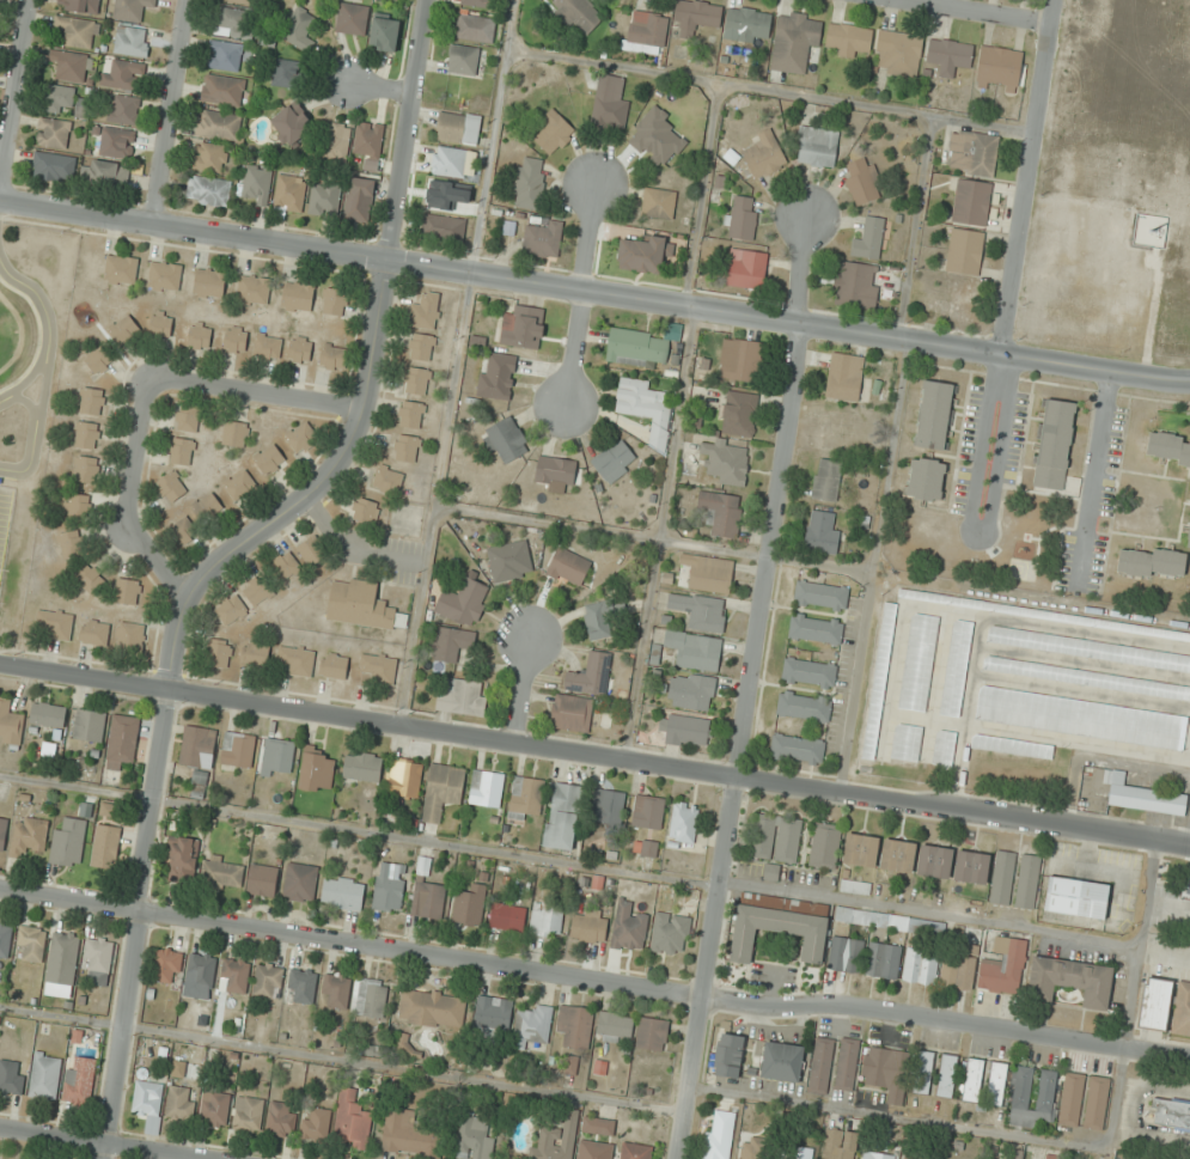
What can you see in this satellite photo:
building: (240, 1)
building: (477, 2)
building: (80, 5)
building: (132, 8)
road: (974, 11)
building: (576, 14)
building: (695, 17)
building: (352, 19)
building: (232, 23)
building: (746, 24)
building: (295, 28)
building: (474, 28)
building: (78, 31)
building: (647, 32)
building: (384, 33)
building: (847, 39)
building: (132, 41)
building: (795, 41)
building: (899, 53)
building: (224, 55)
building: (950, 56)
building: (463, 60)
building: (68, 66)
building: (1000, 69)
building: (286, 73)
building: (123, 75)
building: (222, 90)
road: (384, 90)
road: (768, 90)
road: (16, 96)
building: (60, 99)
building: (609, 104)
building: (81, 108)
building: (123, 109)
road: (170, 112)
building: (291, 123)
building: (218, 124)
building: (458, 127)
building: (53, 133)
building: (554, 134)
building: (336, 141)
building: (117, 142)
building: (370, 144)
building: (817, 147)
building: (972, 153)
building: (763, 155)
building: (209, 157)
building: (448, 161)
building: (51, 166)
building: (108, 173)
road: (1026, 177)
building: (863, 181)
building: (257, 183)
building: (530, 183)
building: (208, 190)
building: (289, 193)
road: (700, 194)
building: (324, 200)
building: (359, 200)
building: (971, 202)
building: (658, 203)
building: (740, 218)
building: (444, 227)
road: (913, 227)
building: (543, 237)
building: (868, 238)
building: (965, 251)
building: (645, 254)
building: (121, 269)
building: (746, 269)
building: (164, 276)
building: (209, 282)
building: (854, 286)
building: (252, 289)
building: (297, 295)
road: (593, 295)
road: (582, 297)
road: (41, 300)
building: (334, 301)
building: (425, 312)
building: (160, 323)
building: (523, 327)
building: (123, 329)
road: (376, 335)
building: (200, 336)
building: (236, 340)
building: (267, 347)
building: (421, 347)
building: (636, 347)
building: (300, 349)
building: (334, 358)
building: (98, 360)
building: (743, 361)
road: (456, 362)
building: (496, 376)
building: (844, 377)
road: (29, 378)
building: (416, 380)
road: (43, 386)
road: (256, 395)
building: (91, 401)
building: (645, 409)
building: (738, 413)
building: (410, 414)
building: (935, 415)
building: (188, 417)
road: (35, 433)
building: (86, 434)
building: (234, 434)
building: (300, 437)
building: (505, 440)
building: (1055, 444)
building: (407, 447)
building: (1167, 450)
building: (181, 451)
building: (269, 459)
building: (615, 460)
building: (726, 462)
building: (85, 470)
building: (555, 474)
building: (387, 478)
building: (826, 480)
building: (926, 480)
building: (239, 484)
building: (171, 487)
road: (132, 499)
building: (77, 506)
building: (207, 507)
building: (365, 511)
building: (722, 512)
building: (182, 531)
building: (822, 532)
road: (659, 533)
road: (652, 538)
building: (1189, 541)
building: (69, 544)
building: (311, 551)
building: (509, 561)
building: (1152, 562)
building: (286, 565)
road: (871, 566)
building: (568, 567)
building: (709, 573)
building: (91, 579)
building: (128, 591)
building: (256, 591)
building: (822, 594)
building: (464, 600)
building: (362, 605)
building: (231, 610)
building: (701, 611)
building: (598, 621)
building: (55, 623)
building: (816, 628)
building: (94, 632)
building: (129, 635)
building: (451, 643)
building: (1088, 648)
building: (694, 649)
building: (219, 653)
building: (255, 653)
building: (295, 660)
building: (919, 663)
building: (334, 665)
building: (378, 667)
building: (957, 667)
building: (808, 672)
building: (591, 673)
building: (1086, 678)
building: (879, 681)
road: (520, 689)
road: (746, 689)
building: (691, 691)
building: (460, 697)
building: (804, 706)
building: (572, 713)
building: (48, 715)
building: (1081, 718)
building: (10, 722)
building: (90, 725)
building: (684, 730)
building: (122, 742)
building: (907, 742)
building: (1012, 746)
building: (199, 749)
building: (238, 749)
building: (797, 749)
building: (944, 749)
building: (277, 756)
road: (594, 756)
building: (362, 765)
building: (317, 771)
building: (404, 779)
building: (487, 787)
building: (443, 791)
building: (1142, 795)
building: (525, 797)
building: (109, 809)
building: (608, 809)
building: (648, 811)
building: (563, 816)
building: (684, 822)
road: (358, 830)
building: (2, 834)
building: (29, 835)
building: (775, 837)
building: (68, 842)
building: (105, 846)
building: (825, 846)
building: (861, 849)
building: (898, 855)
building: (183, 859)
building: (935, 861)
building: (971, 867)
building: (222, 873)
road: (141, 878)
building: (1002, 878)
building: (262, 880)
building: (300, 882)
building: (1027, 882)
building: (390, 886)
building: (855, 886)
building: (1186, 886)
building: (427, 892)
building: (342, 893)
building: (1076, 897)
building: (470, 904)
road: (928, 914)
building: (507, 916)
building: (547, 919)
building: (588, 926)
building: (919, 926)
building: (629, 927)
building: (777, 932)
building: (671, 933)
building: (5, 939)
building: (31, 943)
building: (65, 948)
building: (844, 954)
building: (99, 960)
building: (883, 960)
building: (167, 965)
building: (921, 966)
building: (1003, 966)
building: (959, 970)
building: (234, 975)
building: (200, 976)
building: (1070, 980)
building: (268, 981)
road: (594, 981)
building: (301, 986)
building: (336, 990)
building: (370, 998)
building: (1154, 1004)
building: (432, 1008)
building: (1182, 1009)
building: (493, 1013)
building: (532, 1025)
building: (575, 1025)
building: (615, 1026)
building: (652, 1033)
building: (728, 1055)
road: (341, 1059)
building: (782, 1061)
building: (847, 1065)
building: (822, 1066)
building: (886, 1070)
building: (923, 1072)
building: (45, 1075)
building: (947, 1075)
building: (12, 1076)
building: (79, 1080)
building: (974, 1080)
building: (997, 1084)
building: (1035, 1096)
building: (147, 1098)
building: (1072, 1099)
building: (181, 1103)
building: (1097, 1103)
building: (214, 1108)
building: (248, 1114)
building: (1170, 1114)
building: (282, 1118)
building: (353, 1120)
building: (316, 1123)
building: (598, 1126)
building: (411, 1135)
building: (719, 1135)
building: (475, 1139)
road: (1046, 1139)
building: (557, 1140)
road: (99, 1143)
building: (840, 1145)
building: (755, 1148)
building: (594, 1149)
building: (635, 1151)
building: (800, 1152)
building: (1014, 1154)
building: (877, 1155)
building: (914, 1157)
building: (989, 1158)

